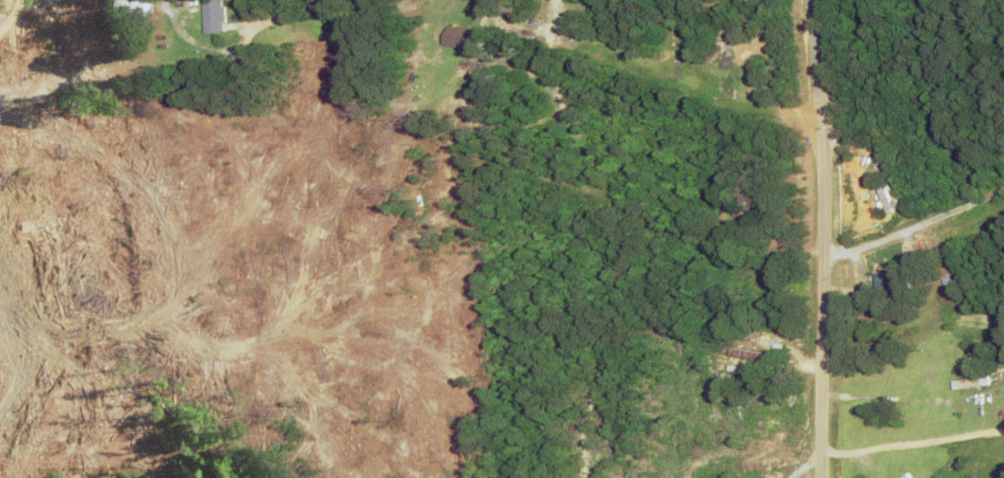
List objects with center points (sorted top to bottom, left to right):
road: (712, 11)
building: (217, 17)
building: (463, 39)
building: (708, 72)
building: (754, 215)
road: (846, 238)
building: (892, 284)
building: (970, 383)
building: (909, 476)

